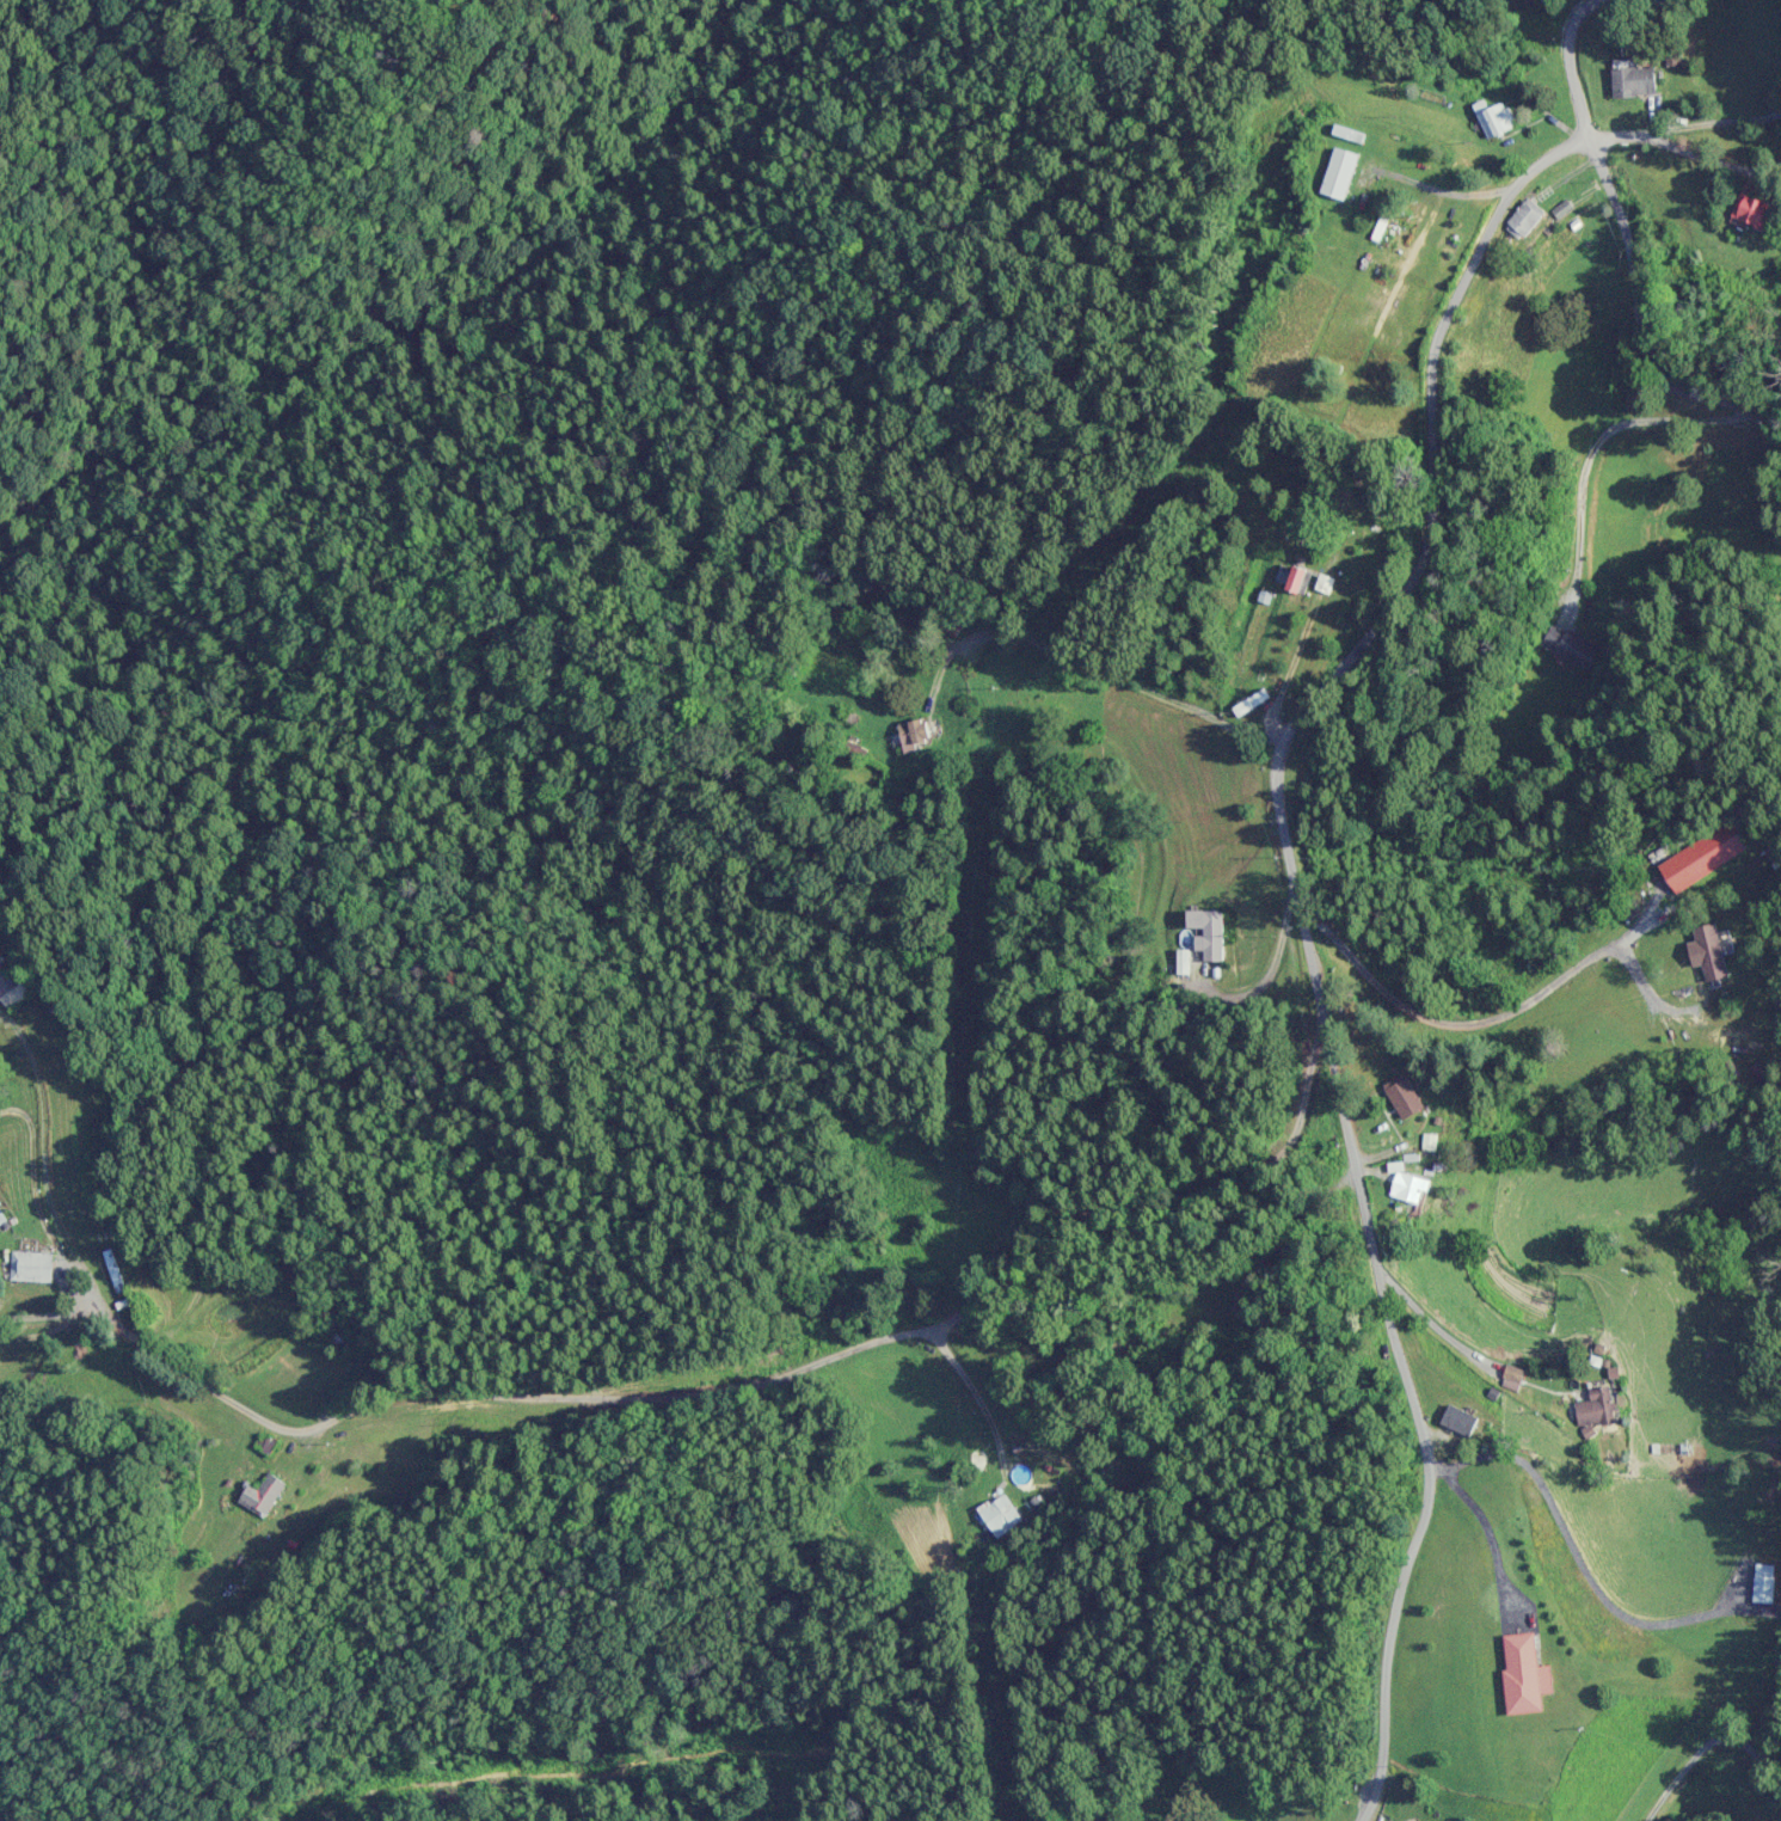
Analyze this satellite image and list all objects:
building: (1635, 82)
road: (1691, 129)
building: (1341, 173)
building: (1751, 211)
building: (1527, 219)
road: (1611, 220)
road: (1125, 576)
building: (1300, 580)
building: (1326, 583)
building: (954, 626)
building: (1570, 645)
building: (915, 734)
building: (856, 749)
building: (1697, 851)
building: (1209, 933)
building: (1711, 951)
road: (1296, 959)
building: (12, 989)
building: (1405, 1096)
building: (1410, 1187)
building: (33, 1267)
building: (117, 1271)
building: (345, 1341)
road: (668, 1371)
road: (1540, 1373)
building: (1516, 1374)
building: (1596, 1408)
building: (1461, 1421)
building: (264, 1496)
road: (168, 1501)
building: (1002, 1515)
building: (1765, 1584)
road: (1629, 1657)
building: (1525, 1675)
road: (1356, 1816)

